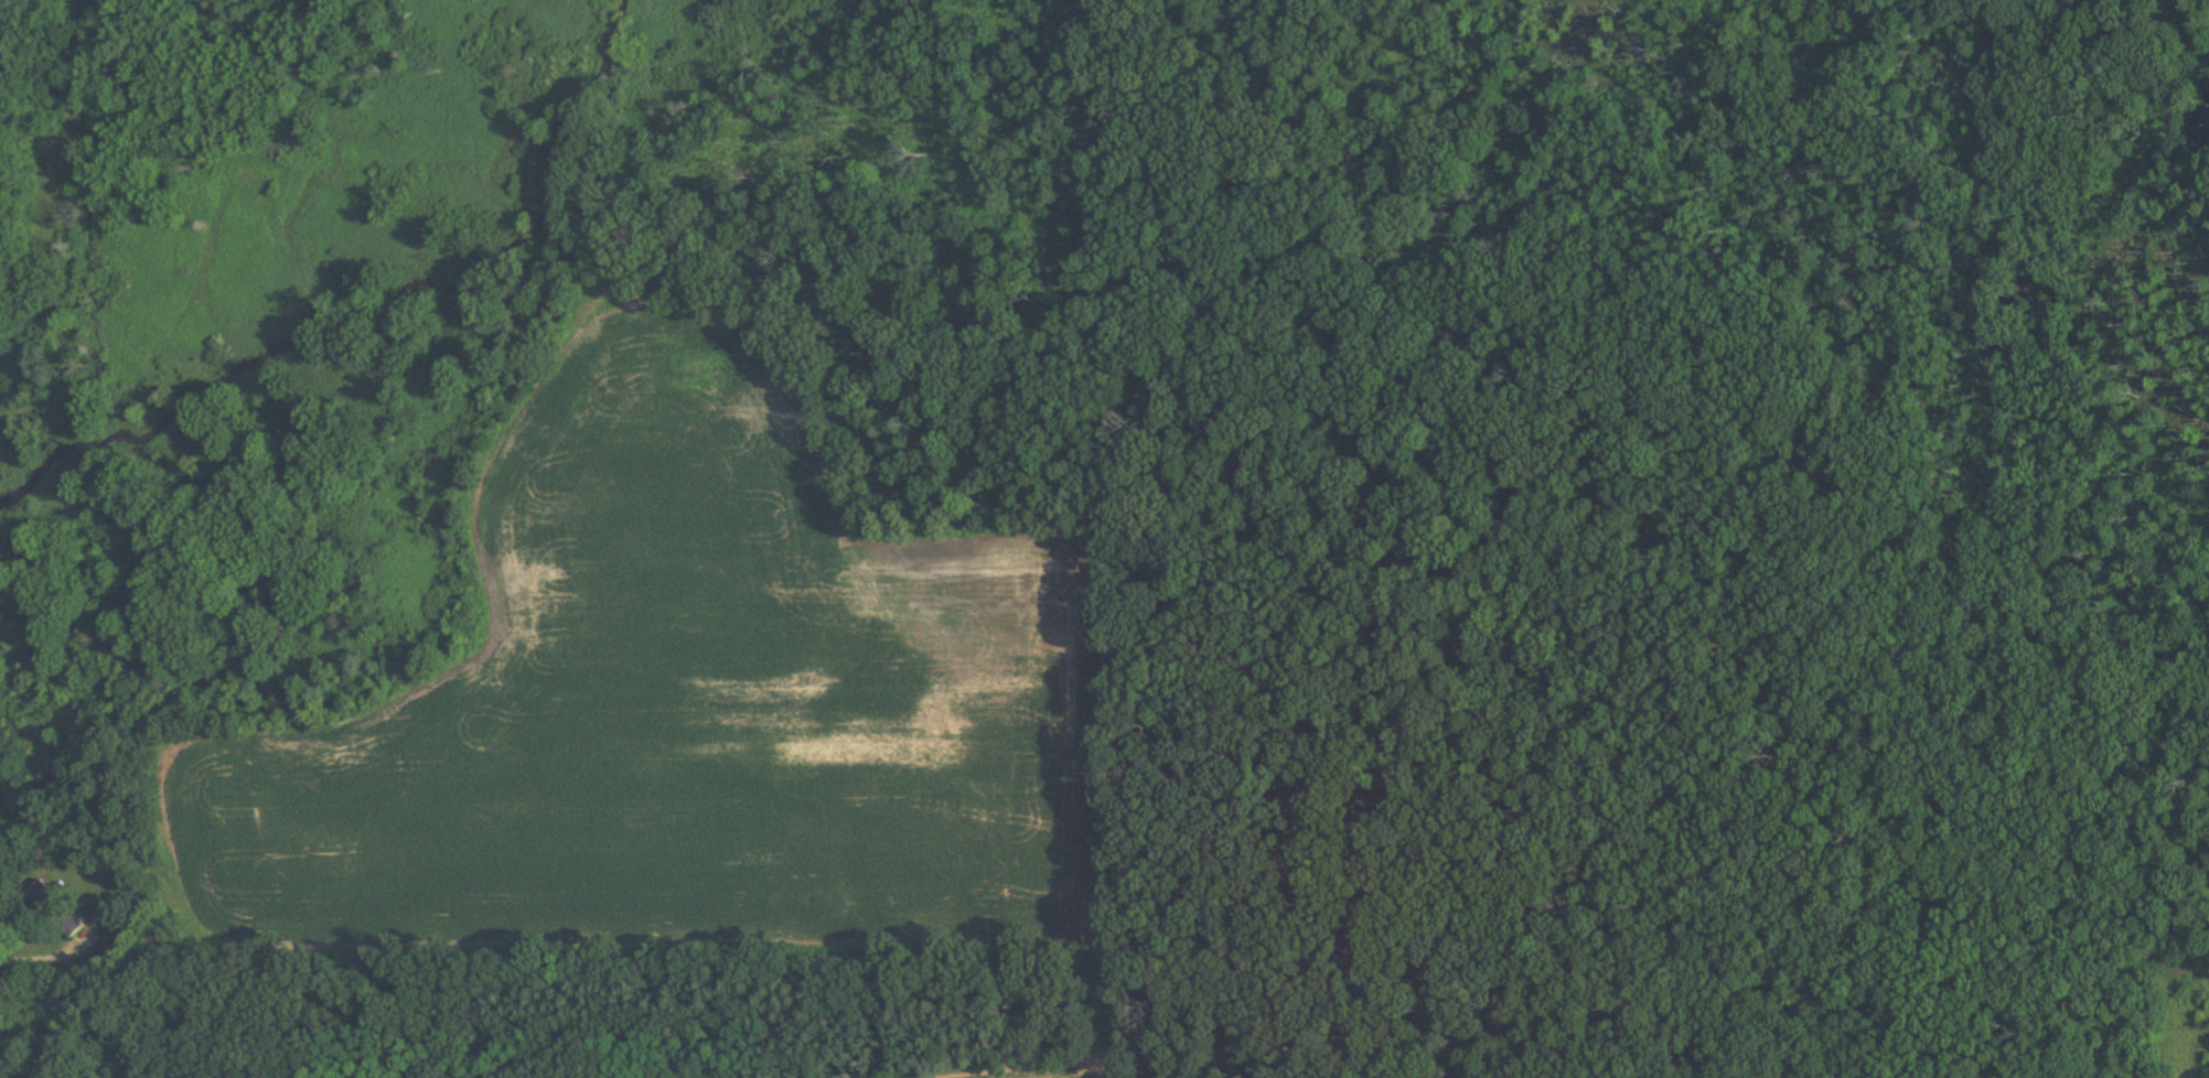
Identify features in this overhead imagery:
building: (53, 912)
building: (106, 955)
road: (46, 961)

